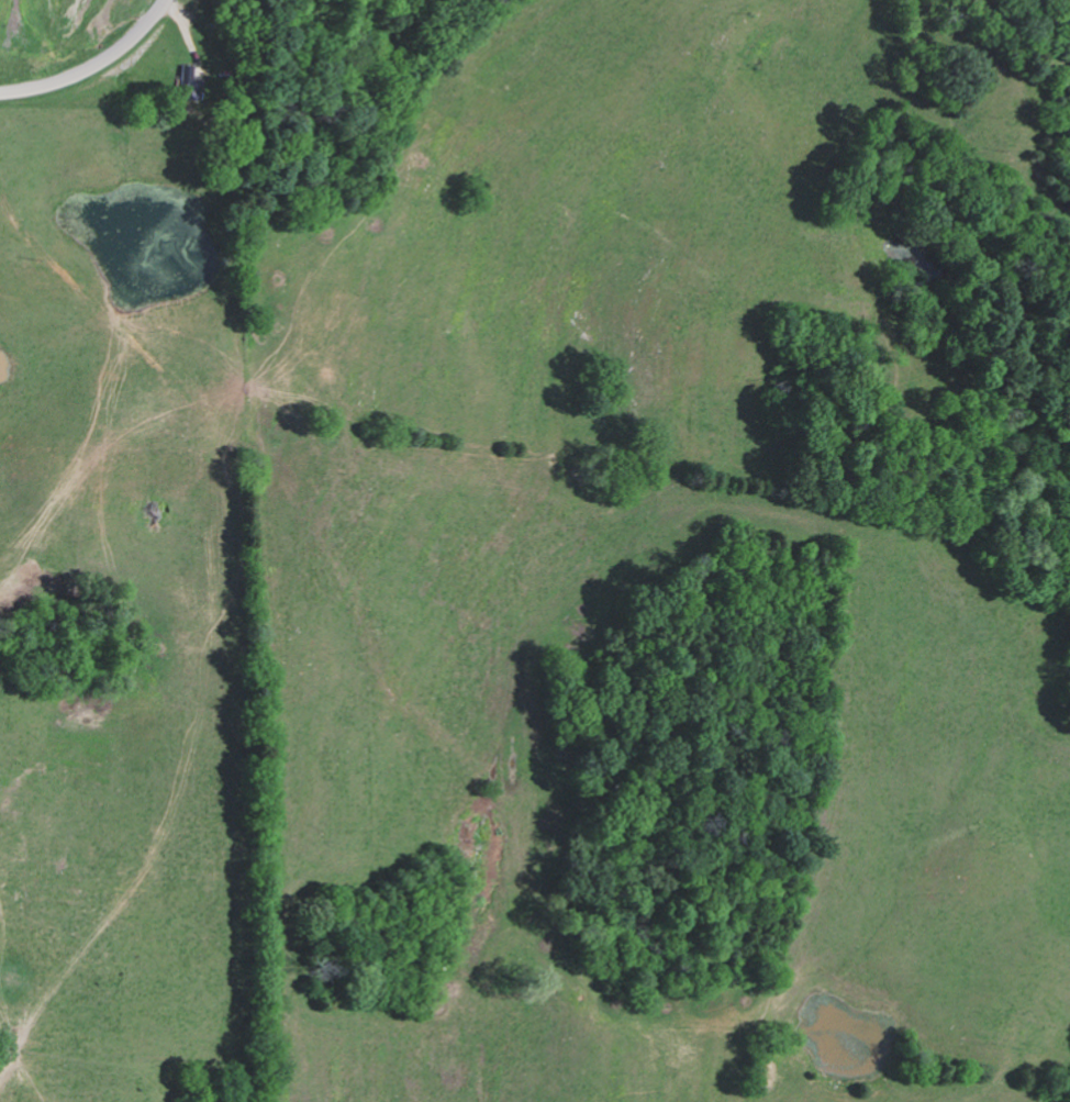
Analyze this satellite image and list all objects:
road: (93, 65)
building: (190, 82)

